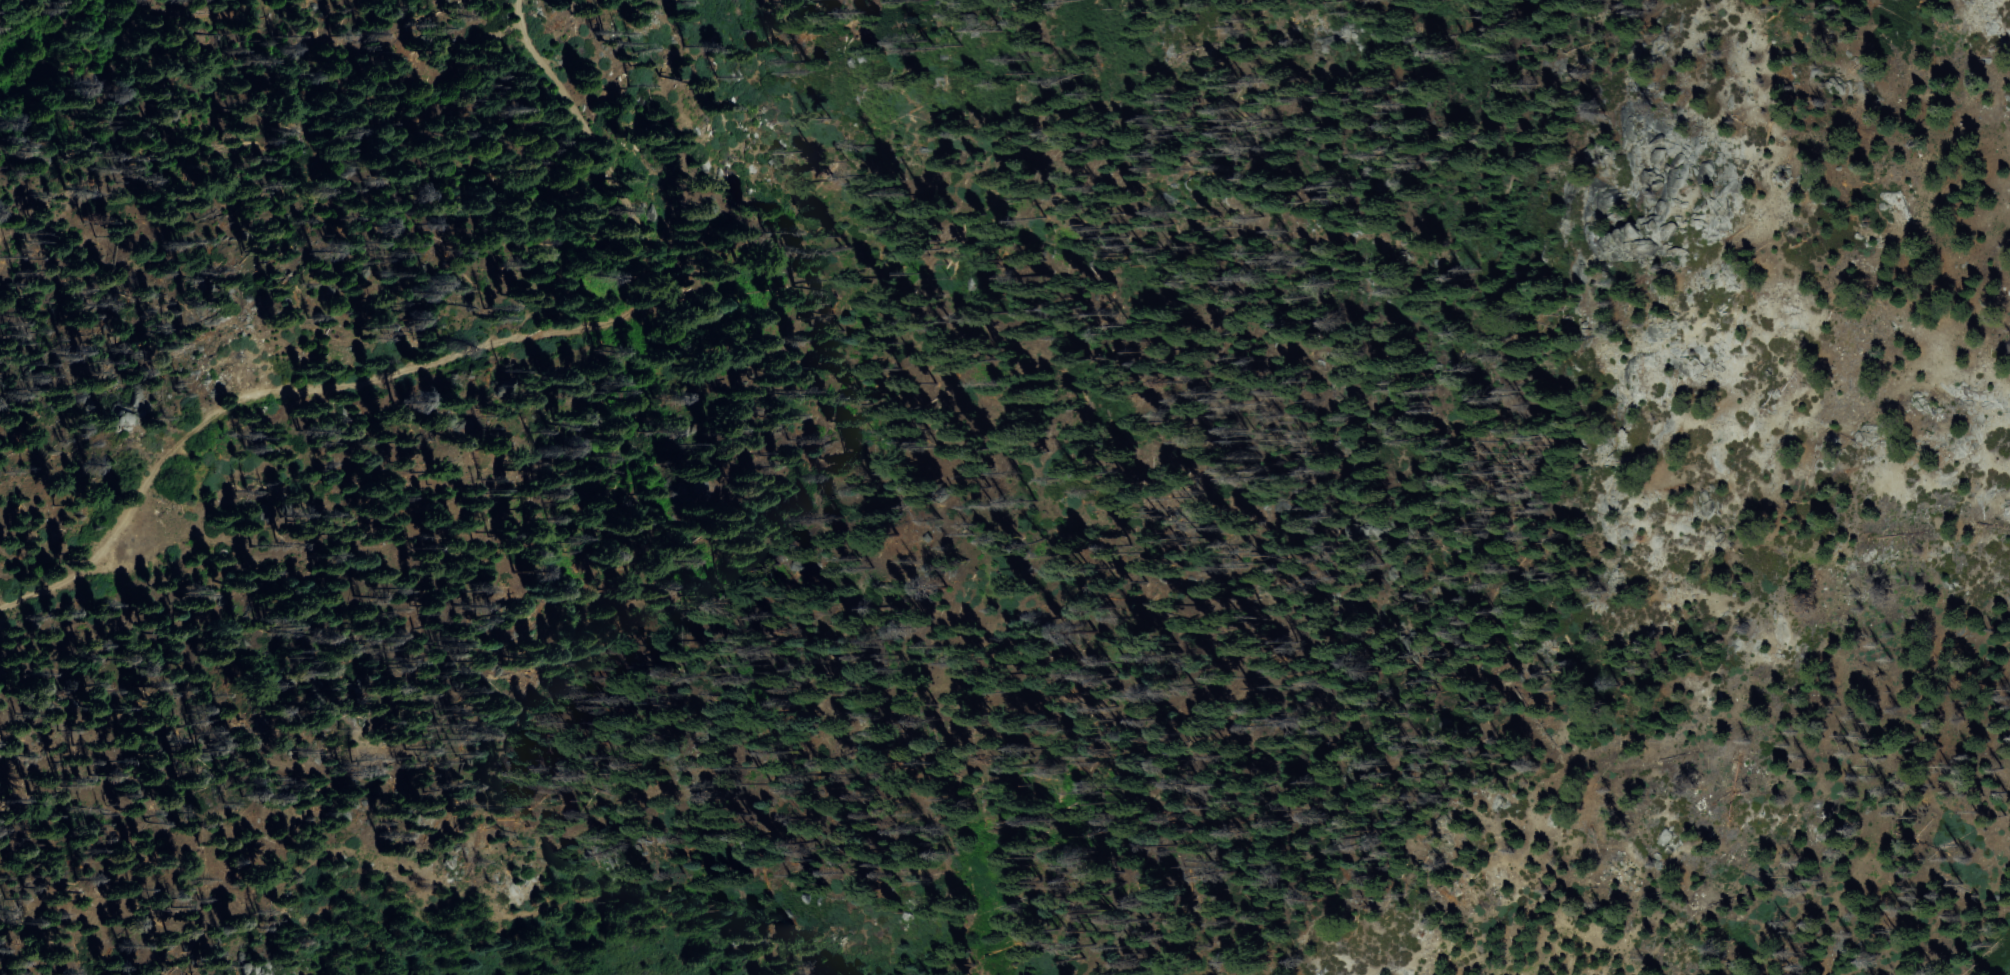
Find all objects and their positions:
road: (441, 359)

